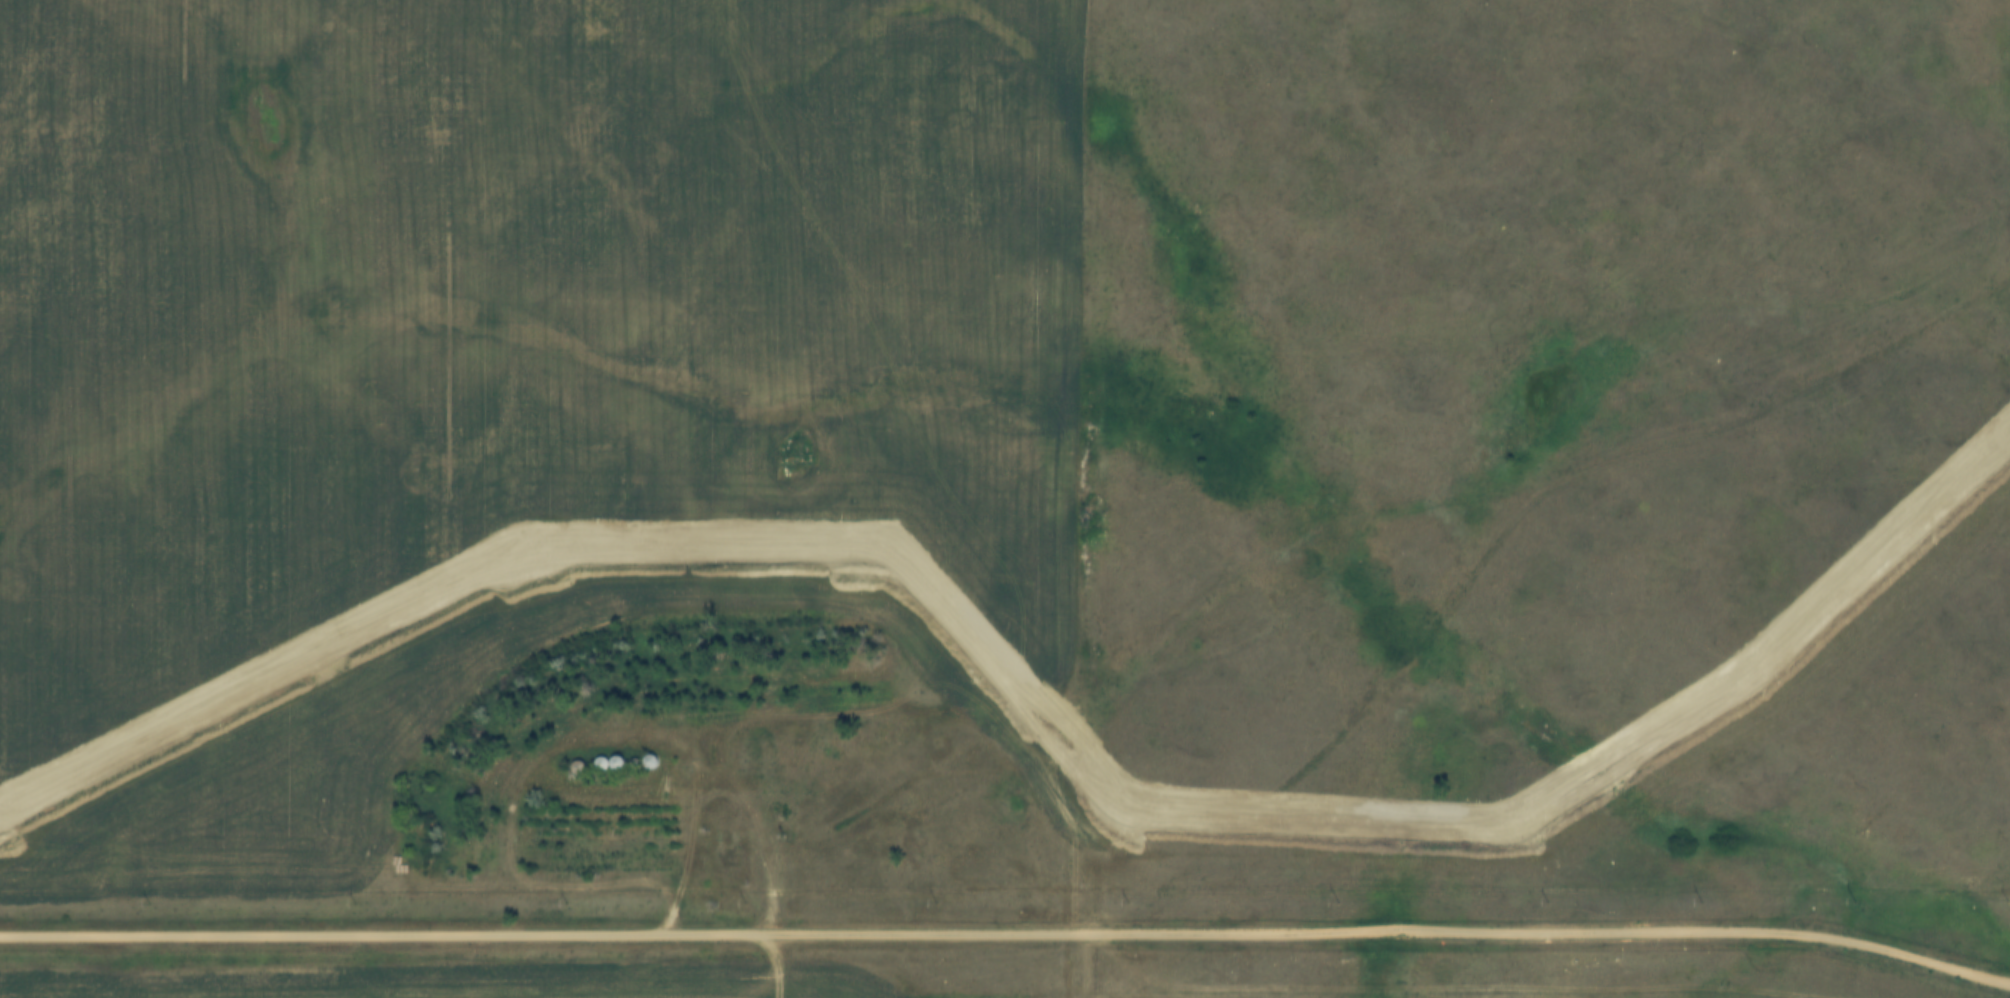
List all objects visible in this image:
road: (563, 739)
road: (1008, 935)

